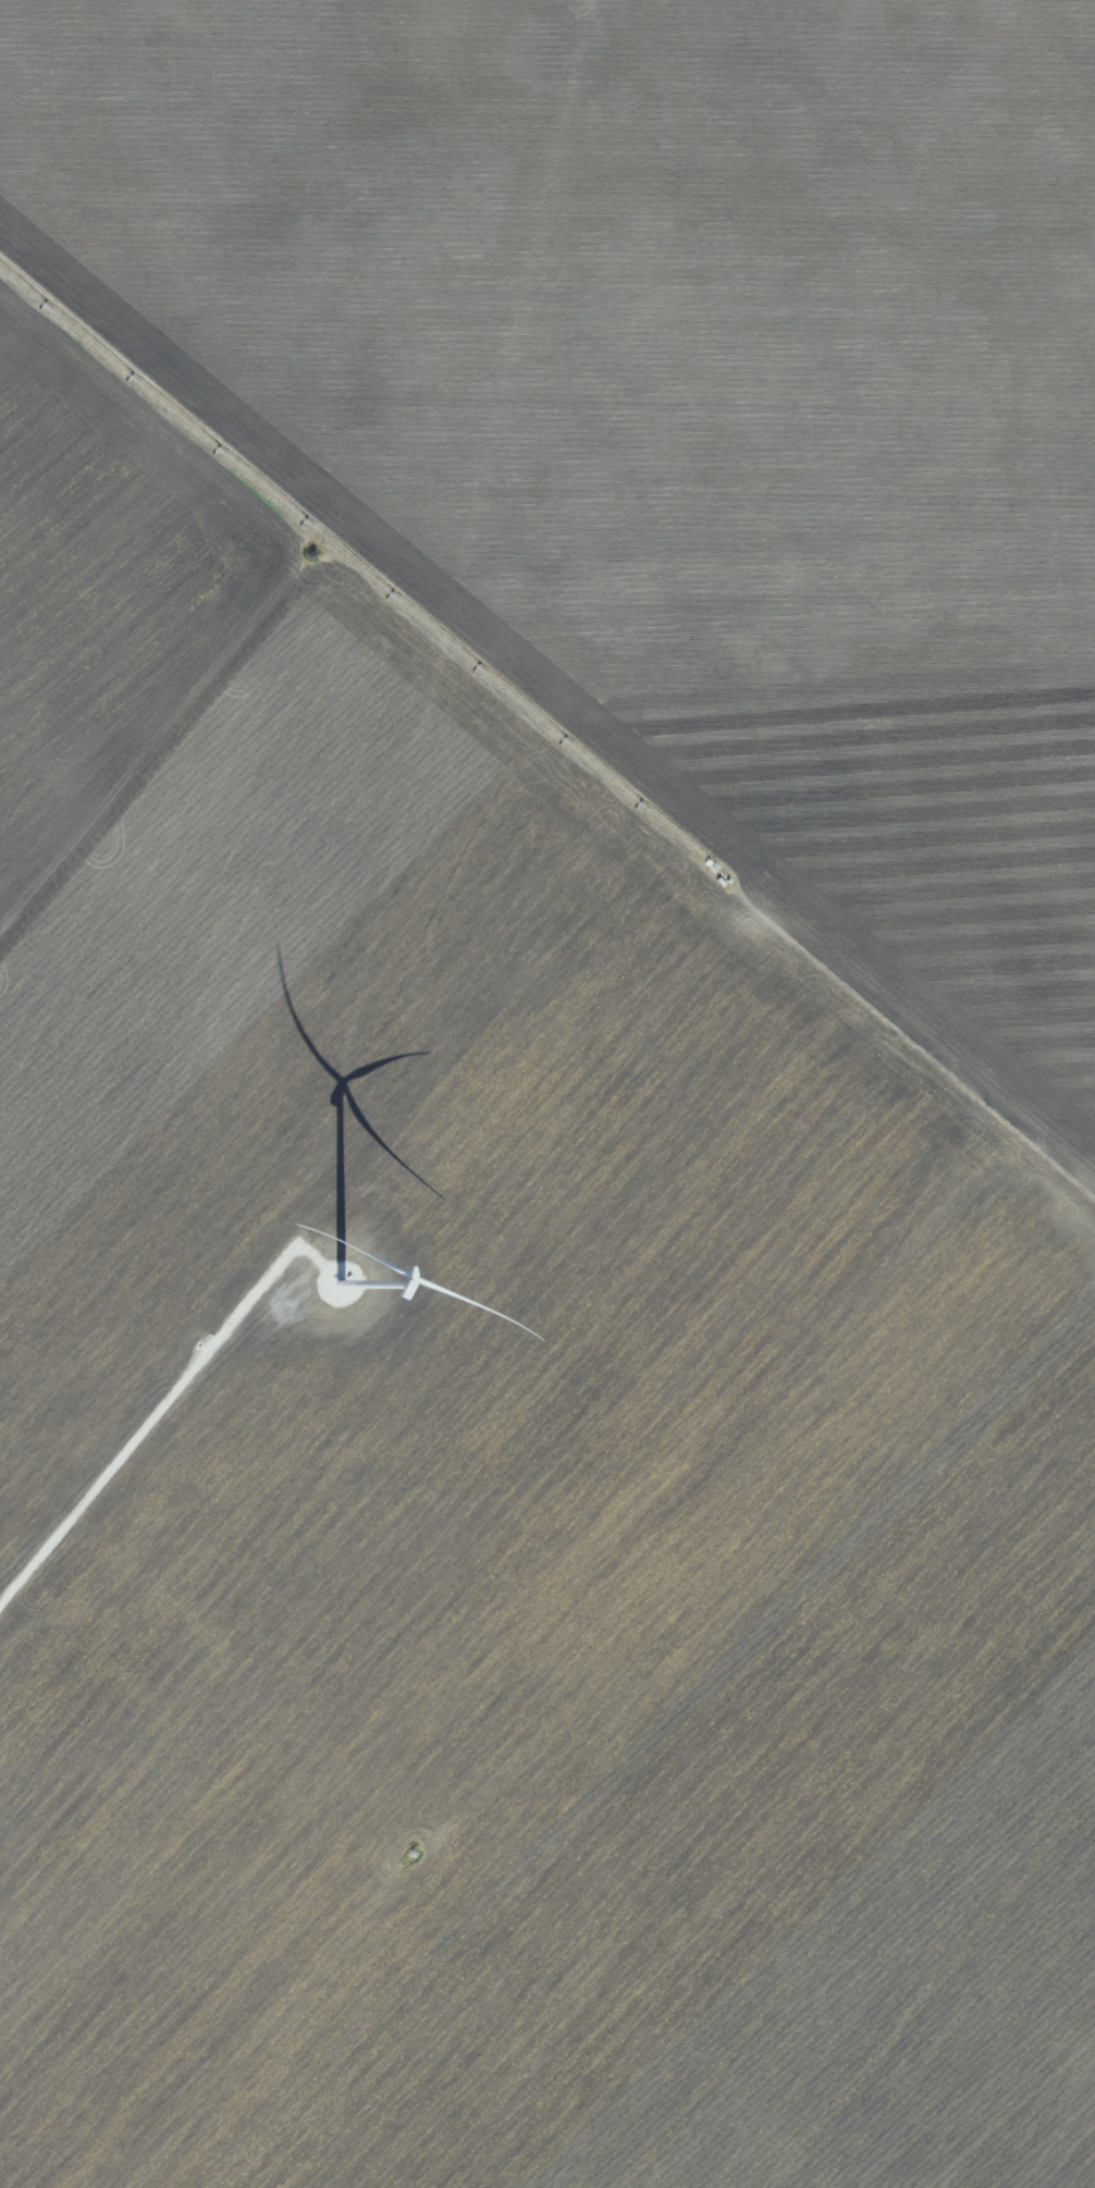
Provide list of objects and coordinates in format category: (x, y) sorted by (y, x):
wind turbine: (346, 1268)

